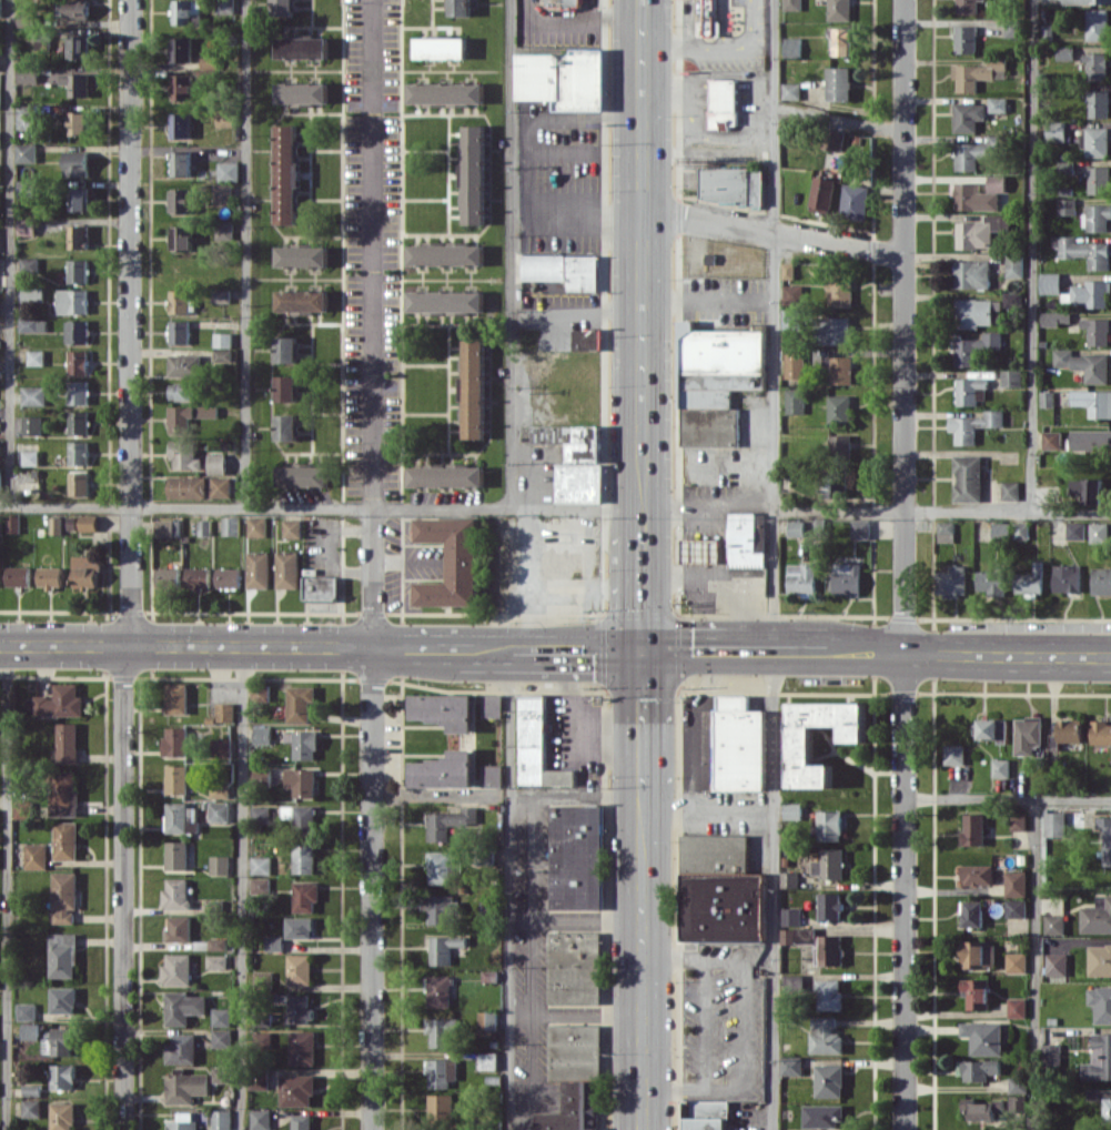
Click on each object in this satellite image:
building: (1087, 1)
building: (574, 2)
building: (792, 4)
building: (225, 6)
building: (283, 7)
building: (0, 8)
building: (461, 8)
building: (73, 10)
building: (840, 10)
building: (188, 11)
road: (579, 18)
building: (1098, 24)
building: (1012, 28)
building: (967, 39)
building: (841, 41)
building: (80, 47)
building: (792, 47)
building: (303, 48)
building: (441, 48)
building: (182, 49)
building: (1067, 52)
building: (1097, 65)
building: (977, 73)
building: (28, 74)
building: (565, 79)
building: (77, 83)
building: (840, 83)
building: (183, 87)
building: (792, 90)
building: (303, 93)
building: (446, 93)
building: (0, 98)
building: (724, 102)
building: (998, 103)
building: (1099, 103)
road: (644, 104)
building: (969, 115)
building: (28, 117)
building: (225, 118)
road: (841, 118)
building: (79, 122)
building: (181, 125)
building: (1057, 131)
building: (0, 138)
building: (835, 139)
building: (1098, 142)
building: (28, 152)
road: (526, 162)
building: (78, 163)
building: (182, 163)
building: (229, 171)
building: (0, 174)
building: (287, 174)
building: (474, 174)
building: (1100, 179)
building: (733, 184)
building: (28, 188)
building: (222, 193)
building: (824, 193)
building: (979, 193)
building: (79, 198)
building: (182, 200)
building: (856, 201)
building: (1067, 205)
building: (1097, 216)
building: (28, 226)
building: (225, 230)
road: (775, 232)
building: (983, 232)
building: (80, 236)
building: (183, 236)
building: (1084, 251)
road: (11, 253)
road: (245, 254)
building: (446, 254)
road: (511, 254)
road: (1034, 255)
building: (302, 256)
road: (643, 262)
building: (31, 264)
building: (1014, 265)
building: (79, 270)
building: (565, 270)
building: (789, 270)
building: (0, 272)
building: (973, 273)
building: (1051, 282)
building: (841, 292)
building: (1092, 293)
building: (33, 294)
building: (794, 294)
building: (222, 295)
road: (709, 299)
building: (74, 301)
building: (181, 301)
building: (303, 301)
building: (446, 301)
road: (131, 302)
building: (977, 312)
road: (576, 316)
building: (1057, 317)
building: (792, 319)
building: (33, 324)
building: (837, 330)
building: (1098, 330)
building: (80, 331)
building: (181, 331)
building: (224, 339)
building: (588, 339)
building: (976, 347)
building: (287, 349)
building: (37, 357)
building: (80, 362)
building: (796, 363)
building: (1084, 364)
building: (185, 365)
building: (841, 369)
building: (1012, 377)
building: (718, 381)
building: (287, 387)
building: (474, 390)
building: (970, 390)
building: (184, 391)
building: (79, 392)
building: (36, 395)
building: (796, 400)
building: (1094, 401)
building: (840, 408)
road: (642, 411)
building: (190, 416)
building: (80, 422)
building: (33, 424)
building: (974, 425)
building: (289, 426)
building: (1053, 440)
building: (1091, 440)
building: (841, 444)
building: (0, 447)
building: (80, 453)
building: (185, 455)
building: (31, 457)
building: (576, 461)
building: (218, 463)
building: (302, 475)
building: (446, 476)
building: (969, 477)
building: (0, 478)
building: (80, 483)
building: (189, 486)
building: (222, 486)
building: (836, 486)
building: (1090, 488)
building: (1012, 490)
road: (729, 502)
road: (664, 505)
road: (320, 509)
road: (942, 512)
building: (89, 522)
building: (13, 524)
building: (57, 525)
building: (231, 525)
building: (256, 526)
building: (168, 527)
building: (797, 527)
building: (292, 528)
building: (861, 528)
building: (1011, 529)
building: (1078, 529)
building: (947, 531)
building: (1100, 532)
building: (761, 534)
building: (745, 542)
building: (701, 549)
building: (453, 561)
road: (774, 564)
road: (372, 565)
road: (905, 565)
building: (87, 569)
building: (259, 569)
building: (287, 569)
building: (18, 576)
road: (683, 576)
building: (50, 577)
building: (168, 577)
building: (229, 577)
road: (642, 577)
road: (724, 577)
building: (802, 577)
building: (1068, 577)
building: (199, 578)
building: (848, 578)
road: (528, 579)
building: (953, 579)
building: (1032, 581)
building: (1102, 581)
building: (992, 582)
building: (321, 587)
road: (128, 646)
road: (321, 646)
traffic signals: (642, 649)
road: (772, 649)
road: (1008, 652)
building: (176, 697)
building: (60, 702)
building: (300, 703)
building: (493, 705)
building: (225, 712)
road: (642, 717)
building: (994, 729)
building: (1069, 732)
building: (1101, 732)
building: (262, 734)
building: (1029, 734)
building: (467, 739)
building: (175, 740)
building: (67, 741)
building: (303, 744)
building: (740, 744)
building: (537, 745)
building: (222, 746)
building: (801, 753)
building: (955, 755)
building: (1000, 767)
building: (492, 775)
building: (176, 778)
building: (302, 781)
building: (220, 789)
road: (434, 793)
road: (577, 793)
building: (63, 794)
road: (1008, 798)
building: (22, 808)
road: (707, 809)
building: (220, 810)
building: (792, 810)
building: (261, 815)
building: (182, 817)
building: (1019, 820)
building: (451, 821)
building: (1054, 824)
building: (830, 825)
building: (973, 828)
building: (1105, 837)
building: (65, 840)
building: (176, 855)
building: (36, 856)
building: (577, 856)
building: (304, 858)
building: (220, 864)
building: (830, 864)
building: (261, 865)
building: (443, 866)
road: (642, 870)
building: (978, 874)
building: (790, 878)
building: (1016, 882)
building: (261, 886)
road: (7, 888)
road: (242, 888)
road: (514, 889)
building: (721, 890)
building: (176, 892)
building: (64, 896)
building: (306, 896)
building: (212, 906)
building: (830, 906)
road: (124, 908)
building: (440, 908)
building: (1016, 908)
building: (972, 912)
building: (791, 916)
building: (1097, 916)
road: (577, 919)
building: (1054, 924)
building: (179, 928)
building: (798, 935)
building: (274, 942)
building: (218, 944)
building: (444, 948)
building: (830, 949)
building: (979, 954)
building: (63, 955)
road: (673, 957)
building: (1099, 959)
building: (216, 961)
building: (1017, 961)
building: (1057, 963)
road: (1036, 965)
building: (574, 967)
building: (300, 968)
building: (176, 969)
building: (794, 981)
building: (440, 990)
building: (976, 992)
building: (829, 993)
building: (63, 999)
building: (1101, 1002)
road: (744, 1006)
building: (184, 1007)
building: (301, 1008)
building: (1017, 1008)
building: (27, 1011)
road: (577, 1016)
building: (222, 1017)
building: (488, 1020)
road: (704, 1022)
building: (442, 1030)
building: (30, 1031)
building: (826, 1035)
building: (983, 1037)
building: (222, 1038)
building: (64, 1040)
road: (642, 1042)
building: (303, 1047)
building: (182, 1049)
building: (1052, 1053)
building: (1099, 1058)
building: (488, 1060)
building: (791, 1065)
building: (978, 1068)
building: (441, 1071)
building: (223, 1074)
building: (63, 1076)
building: (574, 1076)
building: (829, 1080)
building: (1018, 1083)
building: (186, 1087)
road: (690, 1088)
building: (31, 1089)
building: (297, 1090)
building: (1100, 1093)
building: (1018, 1102)
building: (441, 1106)
building: (31, 1108)
building: (981, 1108)
building: (1108, 1110)
building: (706, 1114)
building: (822, 1114)
building: (62, 1116)
building: (222, 1119)
building: (261, 1119)
building: (302, 1121)
building: (183, 1122)

